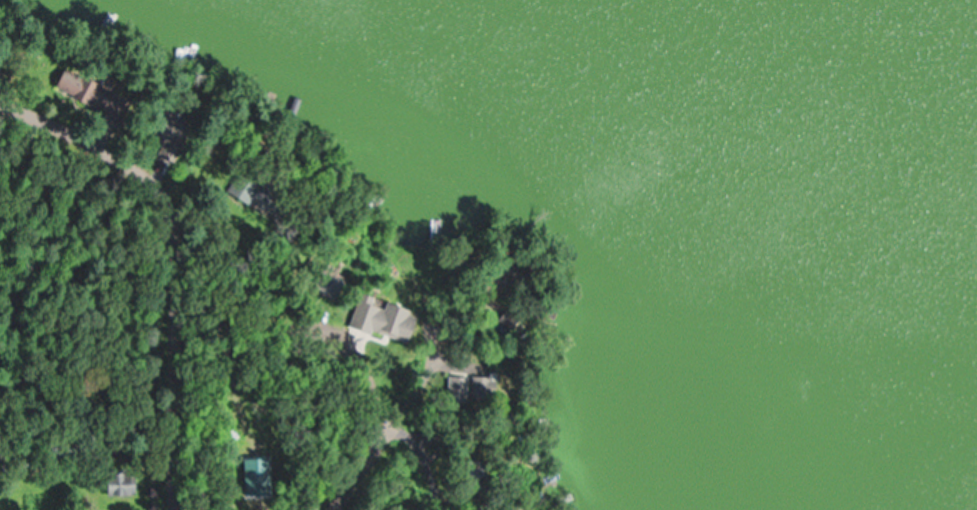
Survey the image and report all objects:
building: (84, 91)
building: (157, 129)
road: (168, 266)
building: (379, 318)
road: (377, 407)
building: (119, 483)
road: (318, 509)

